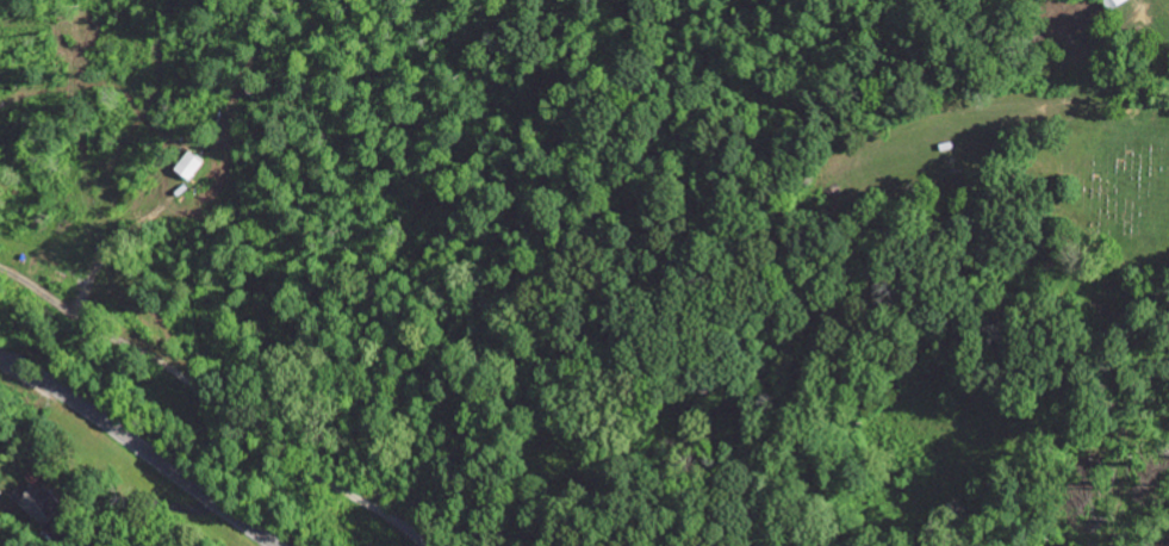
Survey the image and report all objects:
building: (1120, 2)
park: (1112, 176)
road: (138, 446)
building: (43, 501)

